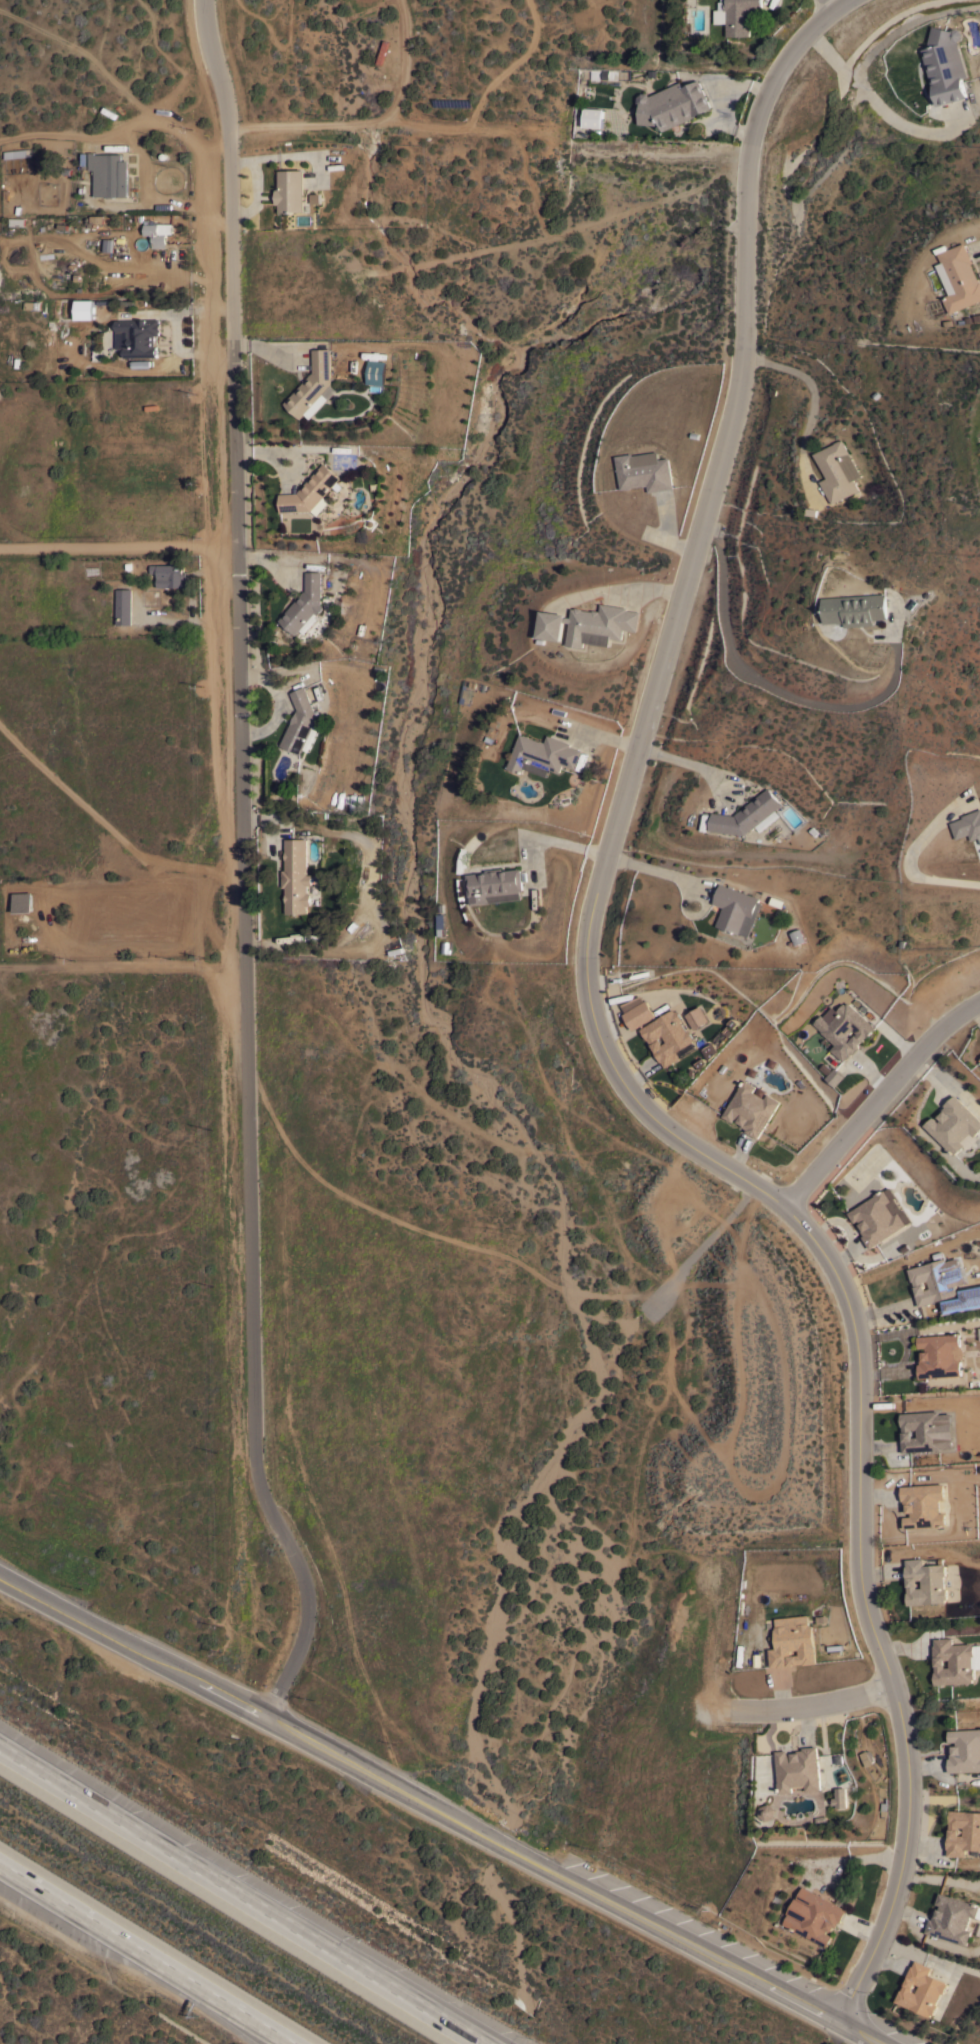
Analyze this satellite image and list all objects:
road: (827, 4)
building: (739, 15)
building: (945, 64)
road: (509, 67)
building: (584, 90)
road: (874, 103)
building: (672, 104)
road: (364, 114)
building: (593, 117)
road: (422, 128)
road: (118, 129)
building: (14, 153)
building: (109, 174)
building: (290, 190)
road: (205, 195)
building: (16, 221)
building: (158, 233)
building: (108, 244)
road: (209, 272)
building: (958, 277)
building: (98, 307)
road: (171, 330)
building: (137, 337)
road: (211, 340)
building: (376, 371)
building: (311, 383)
building: (837, 470)
building: (643, 471)
building: (310, 492)
road: (119, 546)
building: (169, 574)
building: (305, 605)
building: (124, 606)
building: (855, 609)
building: (589, 624)
road: (769, 681)
building: (301, 723)
building: (543, 754)
road: (690, 764)
building: (746, 814)
building: (967, 825)
road: (550, 841)
road: (910, 859)
road: (245, 865)
road: (662, 870)
building: (296, 876)
building: (495, 885)
building: (23, 905)
building: (736, 909)
building: (797, 936)
building: (639, 1015)
building: (697, 1018)
building: (844, 1029)
building: (667, 1036)
road: (602, 1045)
building: (836, 1077)
road: (947, 1086)
road: (877, 1102)
building: (751, 1108)
building: (955, 1125)
building: (879, 1216)
building: (932, 1281)
building: (940, 1355)
building: (921, 1430)
building: (923, 1505)
building: (925, 1581)
building: (792, 1641)
building: (955, 1661)
road: (813, 1708)
building: (964, 1750)
building: (798, 1769)
building: (841, 1796)
road: (444, 1807)
building: (768, 1811)
building: (963, 1831)
road: (247, 1892)
building: (813, 1916)
building: (952, 1918)
road: (100, 1922)
building: (921, 1989)
road: (240, 2015)
road: (248, 2015)

